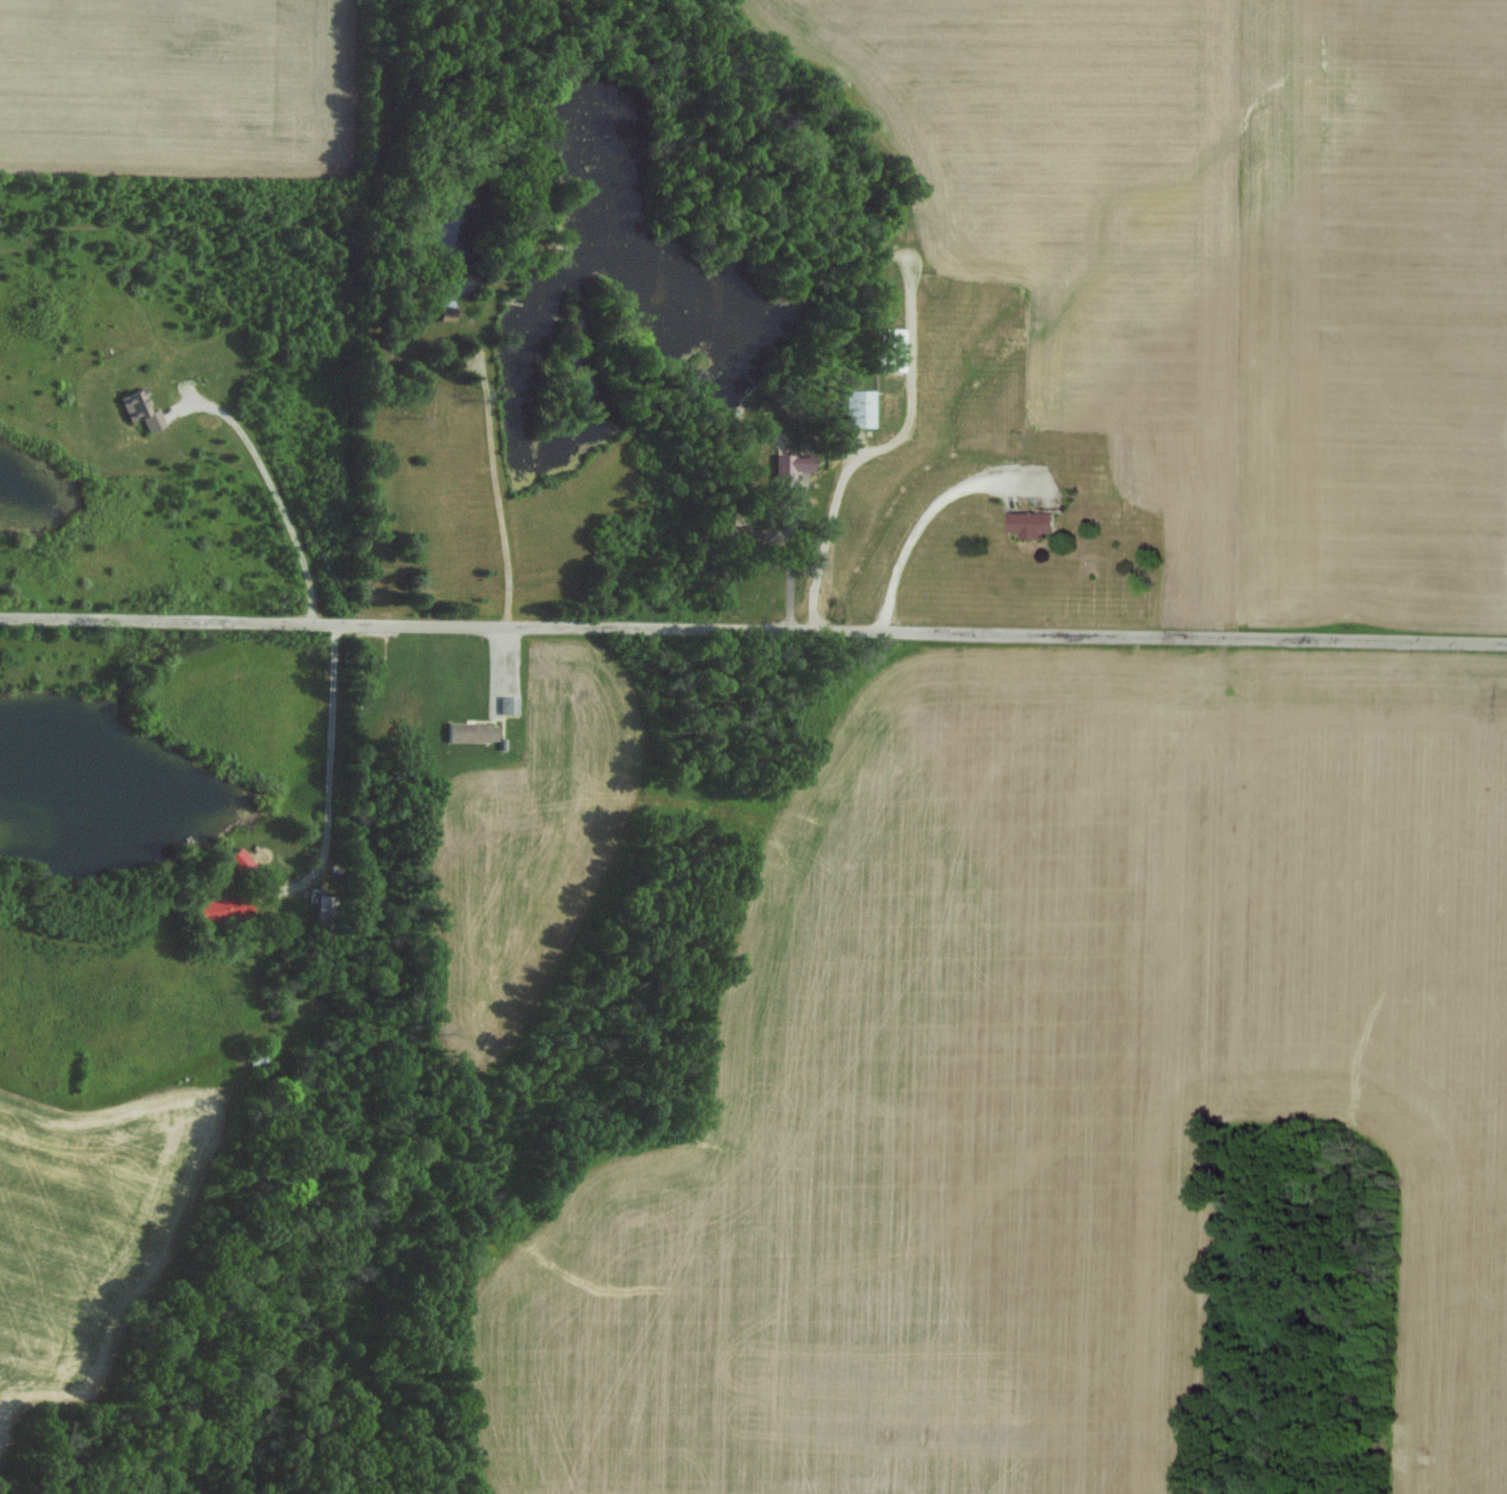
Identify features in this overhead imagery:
building: (857, 407)
building: (142, 409)
building: (786, 468)
road: (276, 492)
road: (500, 498)
building: (1027, 523)
road: (919, 529)
road: (829, 541)
road: (753, 629)
building: (467, 731)
road: (333, 776)
building: (239, 857)

